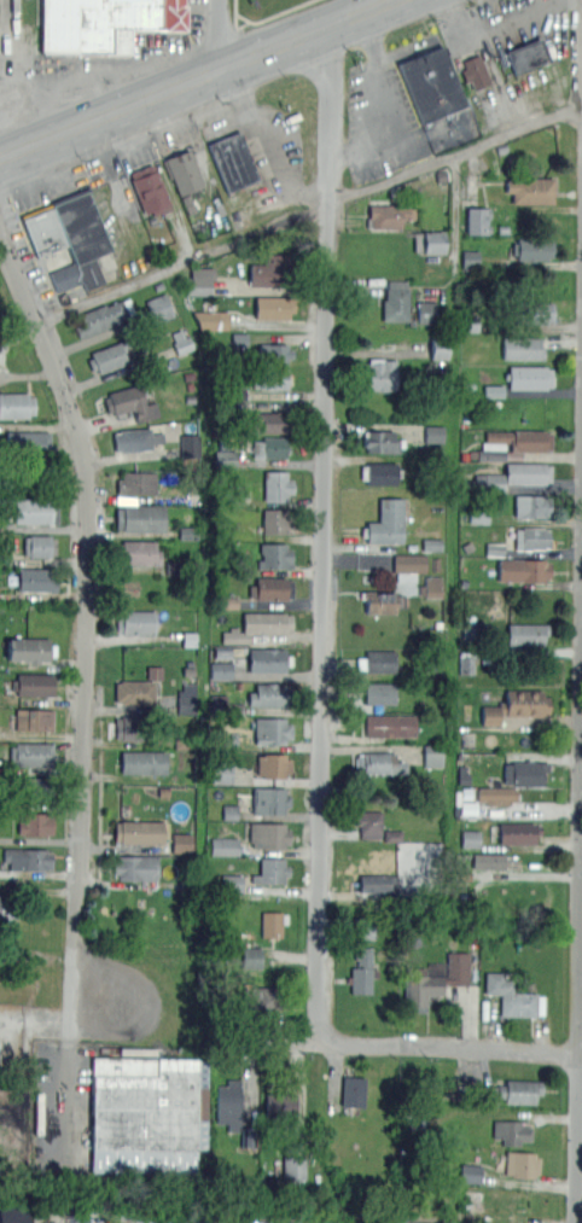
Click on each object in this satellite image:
building: (101, 23)
road: (219, 35)
road: (475, 39)
road: (495, 41)
road: (7, 43)
building: (526, 54)
parking lot: (508, 57)
road: (118, 66)
parking lot: (93, 68)
building: (475, 70)
road: (197, 78)
building: (431, 82)
road: (63, 109)
road: (391, 111)
parking lot: (385, 113)
building: (449, 129)
road: (186, 139)
road: (268, 146)
road: (454, 152)
parking lot: (277, 155)
building: (233, 161)
building: (184, 171)
road: (57, 184)
building: (149, 190)
building: (530, 190)
road: (454, 214)
building: (389, 215)
building: (478, 220)
building: (68, 229)
parking lot: (17, 232)
building: (433, 241)
building: (535, 249)
building: (471, 258)
road: (182, 263)
building: (267, 272)
building: (80, 274)
building: (200, 280)
building: (396, 301)
building: (272, 307)
building: (159, 308)
building: (426, 311)
building: (539, 313)
building: (100, 318)
building: (210, 319)
building: (470, 324)
building: (239, 338)
building: (180, 339)
building: (522, 348)
building: (438, 349)
building: (274, 353)
building: (107, 357)
building: (380, 373)
building: (530, 377)
building: (269, 379)
building: (494, 391)
building: (235, 394)
building: (132, 403)
building: (17, 404)
building: (270, 421)
building: (432, 433)
building: (135, 439)
building: (380, 441)
building: (532, 441)
building: (27, 442)
building: (190, 444)
building: (269, 447)
building: (225, 459)
building: (379, 472)
building: (513, 476)
building: (136, 482)
building: (277, 485)
building: (531, 506)
building: (34, 511)
building: (477, 516)
building: (139, 518)
building: (274, 520)
building: (389, 520)
road: (324, 531)
building: (188, 532)
building: (532, 537)
building: (432, 543)
building: (39, 546)
building: (494, 548)
building: (136, 552)
building: (275, 555)
building: (523, 570)
building: (409, 571)
building: (36, 580)
building: (432, 587)
building: (274, 588)
building: (379, 601)
building: (227, 602)
building: (135, 622)
building: (258, 625)
road: (86, 627)
building: (473, 631)
building: (526, 635)
building: (188, 639)
building: (28, 648)
building: (268, 659)
building: (377, 662)
building: (465, 664)
building: (221, 670)
building: (34, 685)
building: (138, 688)
building: (379, 693)
building: (270, 695)
building: (186, 697)
building: (516, 705)
building: (34, 720)
building: (390, 726)
building: (130, 727)
building: (273, 729)
building: (181, 741)
building: (31, 755)
building: (432, 755)
building: (142, 762)
building: (378, 763)
building: (273, 764)
building: (222, 773)
building: (528, 773)
building: (33, 785)
building: (496, 794)
building: (269, 799)
building: (467, 808)
building: (231, 811)
building: (368, 822)
building: (35, 823)
building: (138, 832)
building: (518, 833)
building: (268, 834)
building: (394, 835)
building: (470, 838)
building: (180, 841)
building: (223, 845)
building: (28, 858)
building: (488, 860)
building: (135, 867)
building: (270, 870)
building: (231, 883)
building: (378, 883)
building: (1, 907)
building: (270, 924)
building: (366, 931)
road: (578, 936)
building: (251, 957)
building: (362, 971)
building: (435, 979)
building: (512, 996)
building: (258, 998)
road: (449, 1048)
building: (354, 1090)
building: (522, 1091)
road: (70, 1101)
parking lot: (63, 1103)
building: (228, 1103)
building: (280, 1105)
building: (149, 1113)
building: (414, 1122)
building: (511, 1131)
building: (522, 1163)
building: (293, 1167)
building: (470, 1172)
building: (13, 1215)

